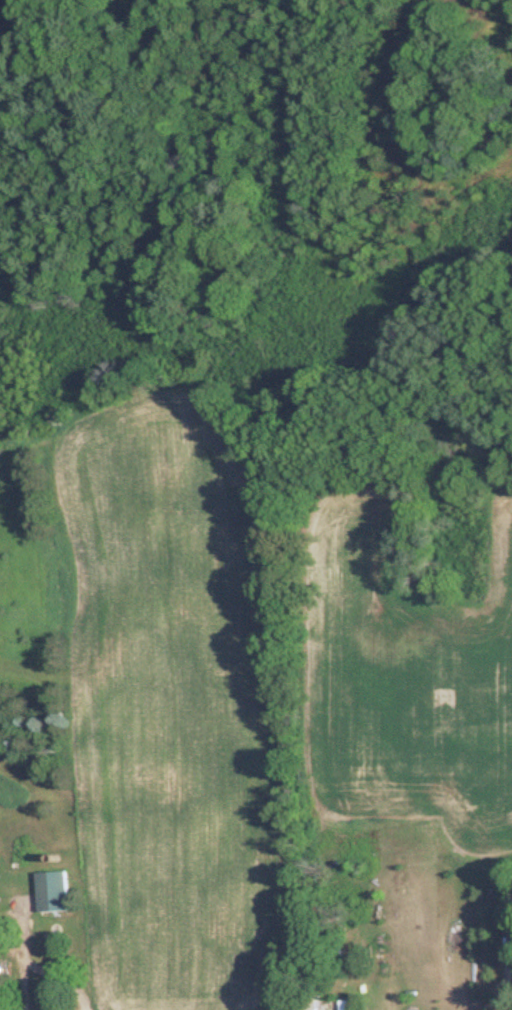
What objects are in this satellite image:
building: (51, 891)
road: (22, 957)

